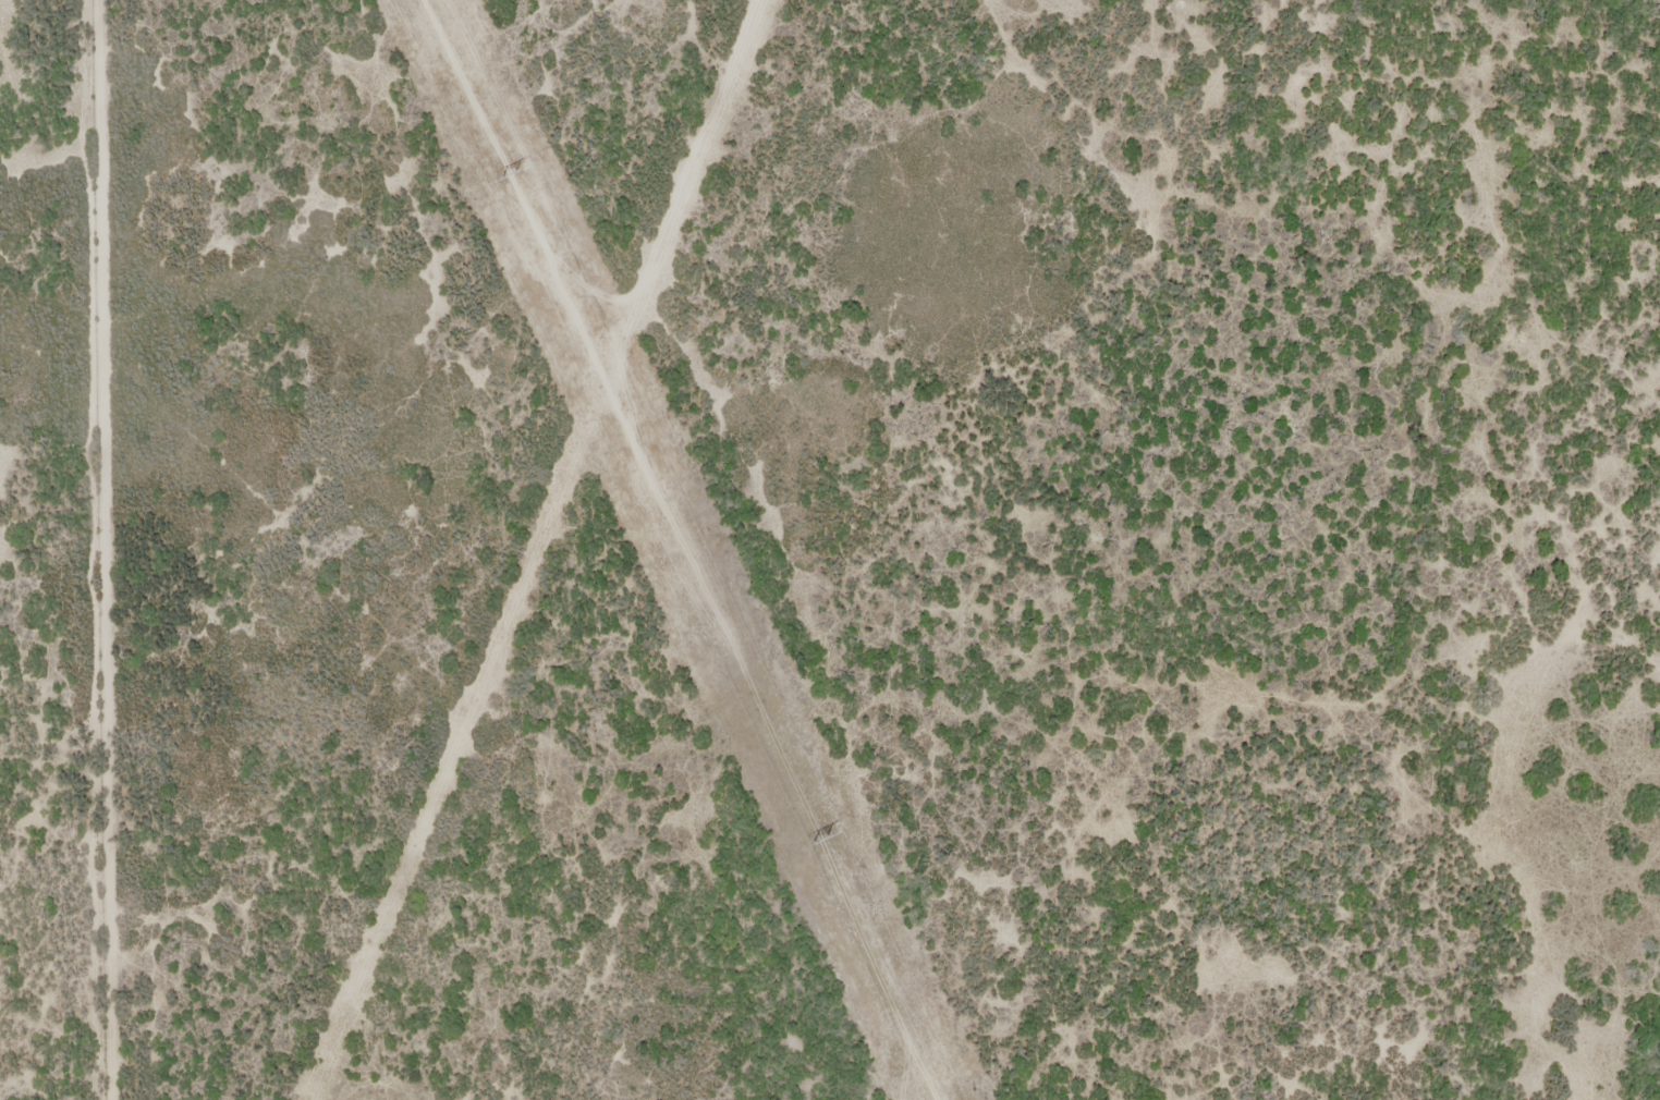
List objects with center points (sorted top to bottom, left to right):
power tower: (509, 174)
road: (740, 472)
road: (1512, 550)
power tower: (821, 841)

